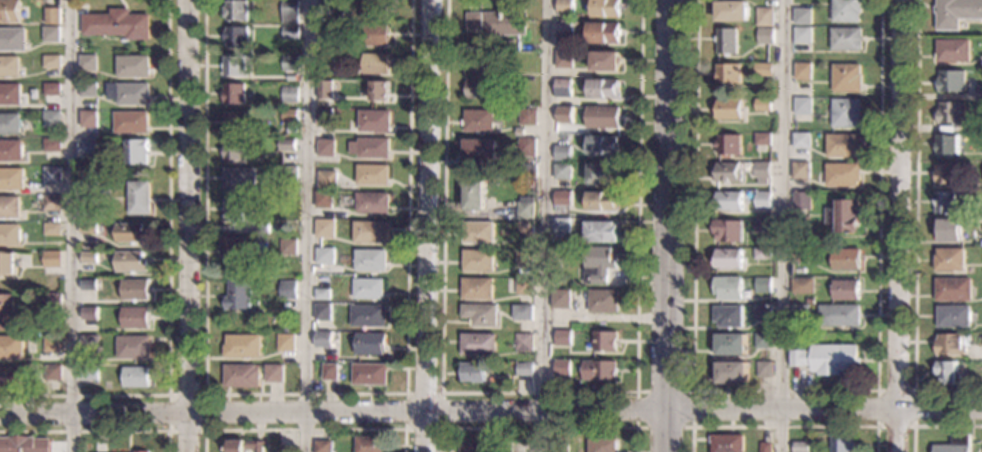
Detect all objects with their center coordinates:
building: (564, 7)
building: (373, 9)
building: (606, 9)
building: (10, 11)
building: (237, 11)
building: (846, 11)
building: (290, 12)
building: (731, 12)
building: (955, 13)
building: (322, 14)
building: (53, 16)
building: (764, 17)
building: (802, 17)
building: (473, 21)
building: (504, 23)
building: (118, 24)
building: (324, 29)
building: (564, 31)
building: (290, 33)
building: (603, 33)
building: (52, 34)
building: (375, 35)
building: (764, 35)
building: (802, 36)
building: (238, 37)
building: (12, 39)
building: (846, 40)
building: (726, 42)
building: (950, 51)
building: (748, 58)
building: (563, 59)
building: (326, 60)
building: (604, 61)
building: (52, 62)
building: (88, 62)
building: (289, 63)
building: (375, 63)
building: (980, 64)
building: (9, 66)
building: (133, 66)
building: (235, 66)
building: (763, 70)
building: (802, 72)
building: (728, 75)
building: (291, 77)
building: (482, 78)
building: (844, 79)
building: (948, 82)
building: (562, 88)
building: (51, 89)
building: (603, 89)
building: (88, 90)
building: (324, 90)
building: (380, 91)
building: (129, 93)
building: (10, 94)
building: (235, 94)
building: (289, 94)
building: (977, 95)
building: (761, 106)
building: (801, 107)
building: (728, 111)
building: (845, 114)
building: (948, 114)
building: (563, 115)
building: (289, 116)
building: (528, 117)
building: (51, 118)
building: (324, 118)
building: (602, 118)
building: (88, 119)
building: (480, 120)
building: (374, 121)
building: (131, 122)
building: (235, 122)
building: (10, 124)
building: (977, 124)
building: (292, 130)
building: (519, 133)
building: (761, 140)
building: (800, 141)
building: (52, 145)
building: (88, 145)
building: (286, 145)
building: (602, 145)
building: (945, 145)
building: (727, 146)
building: (843, 146)
building: (526, 147)
building: (325, 148)
building: (373, 148)
building: (234, 150)
building: (480, 150)
building: (11, 151)
building: (135, 152)
building: (562, 153)
building: (800, 171)
building: (562, 172)
building: (728, 173)
building: (761, 173)
building: (289, 174)
building: (603, 174)
building: (943, 174)
building: (373, 175)
building: (51, 176)
building: (841, 176)
building: (12, 179)
building: (239, 179)
building: (327, 180)
building: (88, 189)
building: (474, 195)
building: (138, 198)
building: (562, 198)
building: (324, 200)
building: (602, 201)
building: (729, 201)
building: (761, 201)
building: (51, 202)
building: (800, 202)
building: (373, 203)
building: (941, 203)
building: (9, 207)
building: (525, 208)
building: (233, 209)
building: (843, 217)
road: (187, 225)
building: (560, 225)
road: (780, 225)
road: (71, 226)
road: (305, 226)
road: (426, 226)
road: (542, 226)
road: (667, 226)
road: (899, 226)
building: (762, 227)
building: (88, 228)
building: (261, 228)
building: (325, 228)
building: (51, 229)
building: (524, 229)
road: (913, 229)
building: (727, 231)
building: (946, 231)
building: (370, 232)
building: (478, 232)
building: (601, 232)
building: (131, 233)
building: (9, 234)
building: (288, 247)
building: (100, 248)
building: (241, 248)
building: (762, 255)
building: (325, 256)
building: (797, 256)
building: (88, 257)
building: (51, 258)
building: (524, 258)
building: (370, 260)
building: (478, 260)
building: (728, 260)
building: (844, 260)
building: (946, 260)
building: (130, 262)
building: (8, 264)
building: (555, 264)
building: (596, 265)
road: (167, 281)
building: (87, 285)
building: (762, 285)
building: (523, 286)
building: (801, 286)
building: (368, 288)
building: (477, 288)
building: (727, 289)
building: (135, 290)
building: (288, 290)
building: (843, 290)
building: (950, 290)
building: (322, 294)
building: (238, 296)
building: (560, 299)
building: (52, 301)
building: (602, 301)
building: (808, 301)
building: (6, 312)
building: (322, 312)
building: (522, 313)
building: (798, 313)
building: (88, 314)
building: (761, 314)
building: (480, 315)
building: (368, 316)
building: (837, 316)
building: (727, 317)
building: (135, 318)
building: (950, 318)
building: (287, 327)
building: (562, 337)
building: (323, 339)
building: (604, 341)
building: (761, 341)
building: (523, 342)
building: (88, 343)
building: (285, 343)
building: (52, 344)
building: (370, 344)
building: (478, 344)
building: (949, 344)
building: (730, 345)
building: (242, 346)
building: (132, 347)
building: (11, 348)
building: (825, 359)
building: (562, 368)
building: (524, 369)
building: (763, 370)
building: (602, 371)
building: (329, 372)
building: (52, 373)
building: (473, 373)
building: (730, 373)
building: (943, 373)
building: (274, 374)
building: (369, 374)
building: (88, 375)
building: (241, 376)
building: (135, 377)
building: (12, 378)
road: (782, 390)
road: (911, 390)
road: (537, 392)
road: (304, 394)
road: (204, 395)
road: (490, 415)
road: (933, 426)
road: (690, 427)
road: (783, 427)
road: (441, 428)
road: (538, 428)
road: (304, 430)
road: (94, 431)
building: (724, 443)
building: (24, 444)
building: (370, 444)
building: (839, 444)
building: (246, 445)
building: (601, 445)
building: (952, 445)
building: (323, 446)
building: (559, 447)
building: (763, 447)
building: (798, 447)
building: (471, 449)
building: (140, 451)

